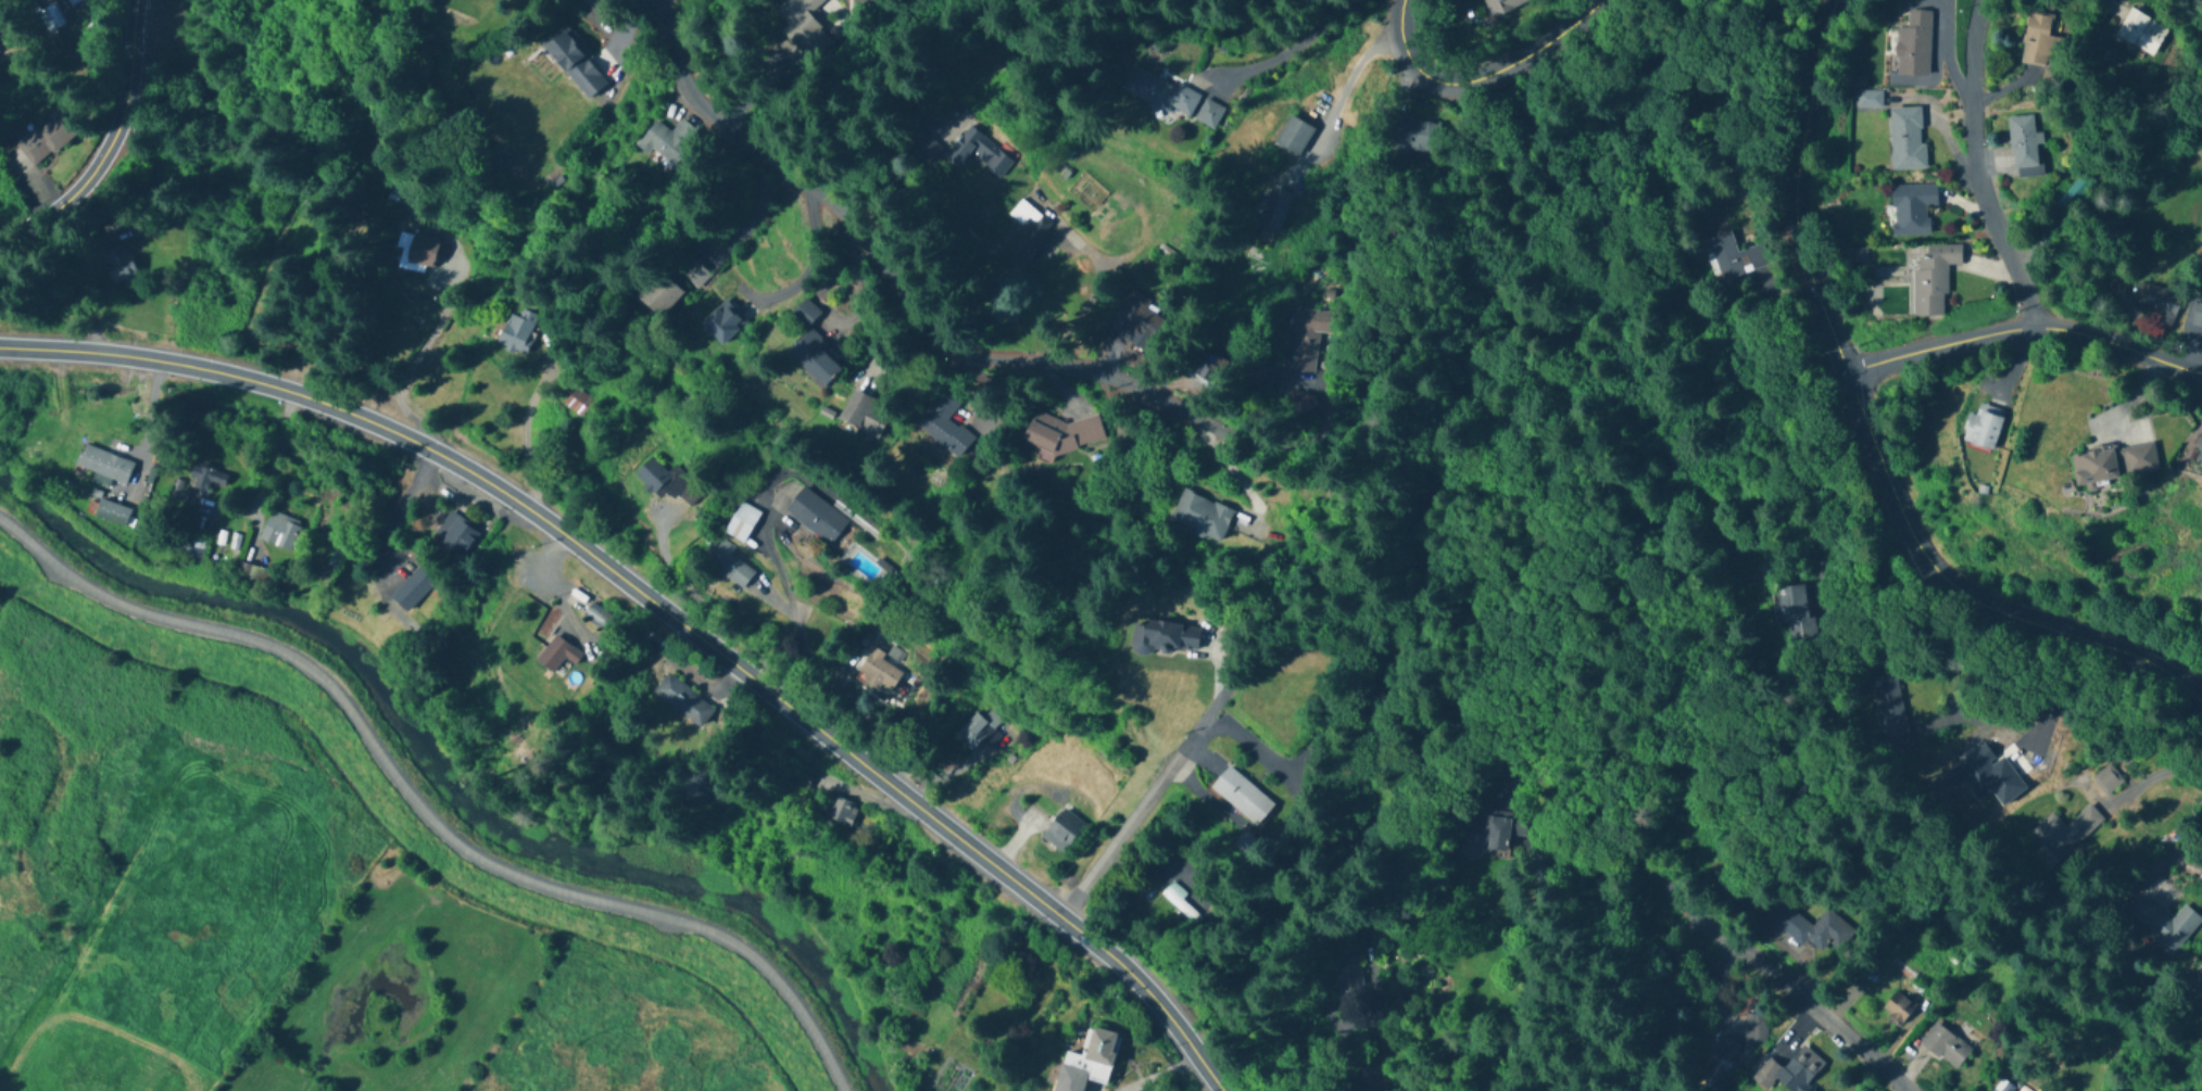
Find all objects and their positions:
building: (72, 2)
building: (1500, 5)
building: (2140, 30)
building: (796, 38)
building: (2037, 38)
road: (1296, 40)
building: (1914, 43)
building: (575, 62)
road: (1479, 77)
road: (1339, 87)
building: (1159, 91)
building: (1868, 100)
building: (1417, 135)
building: (43, 138)
building: (1907, 138)
building: (667, 141)
building: (2023, 141)
road: (112, 145)
building: (958, 151)
road: (1975, 169)
road: (1798, 190)
building: (1911, 207)
building: (1273, 208)
building: (1111, 210)
building: (1027, 231)
building: (416, 252)
building: (1733, 257)
building: (119, 264)
road: (806, 271)
building: (694, 274)
road: (1100, 278)
building: (1933, 278)
road: (901, 290)
building: (658, 294)
building: (2159, 304)
building: (806, 313)
building: (2197, 315)
building: (721, 321)
building: (1134, 324)
road: (2025, 327)
building: (517, 333)
building: (1306, 338)
building: (815, 358)
road: (411, 363)
building: (1207, 367)
building: (578, 403)
building: (865, 414)
building: (942, 424)
building: (1983, 426)
building: (1066, 433)
building: (2199, 454)
building: (2114, 462)
building: (104, 466)
road: (1232, 473)
road: (266, 474)
building: (203, 479)
building: (663, 479)
road: (398, 507)
building: (112, 512)
building: (816, 516)
building: (1200, 516)
building: (280, 531)
building: (456, 534)
building: (189, 549)
building: (728, 563)
building: (412, 588)
road: (1972, 595)
road: (671, 610)
building: (1794, 612)
building: (595, 616)
building: (1167, 635)
building: (557, 655)
building: (880, 669)
road: (2072, 693)
building: (683, 701)
building: (1887, 706)
building: (981, 733)
road: (2149, 773)
building: (2106, 779)
building: (800, 782)
building: (1242, 796)
road: (1143, 803)
road: (419, 811)
building: (841, 812)
building: (1062, 830)
building: (2065, 832)
building: (1483, 834)
building: (1180, 902)
building: (2163, 923)
building: (1812, 928)
building: (1902, 966)
road: (1779, 980)
building: (2198, 984)
building: (1349, 988)
building: (1898, 1007)
building: (1754, 1028)
building: (1945, 1045)
building: (1093, 1057)
building: (1721, 1062)
building: (1790, 1071)

